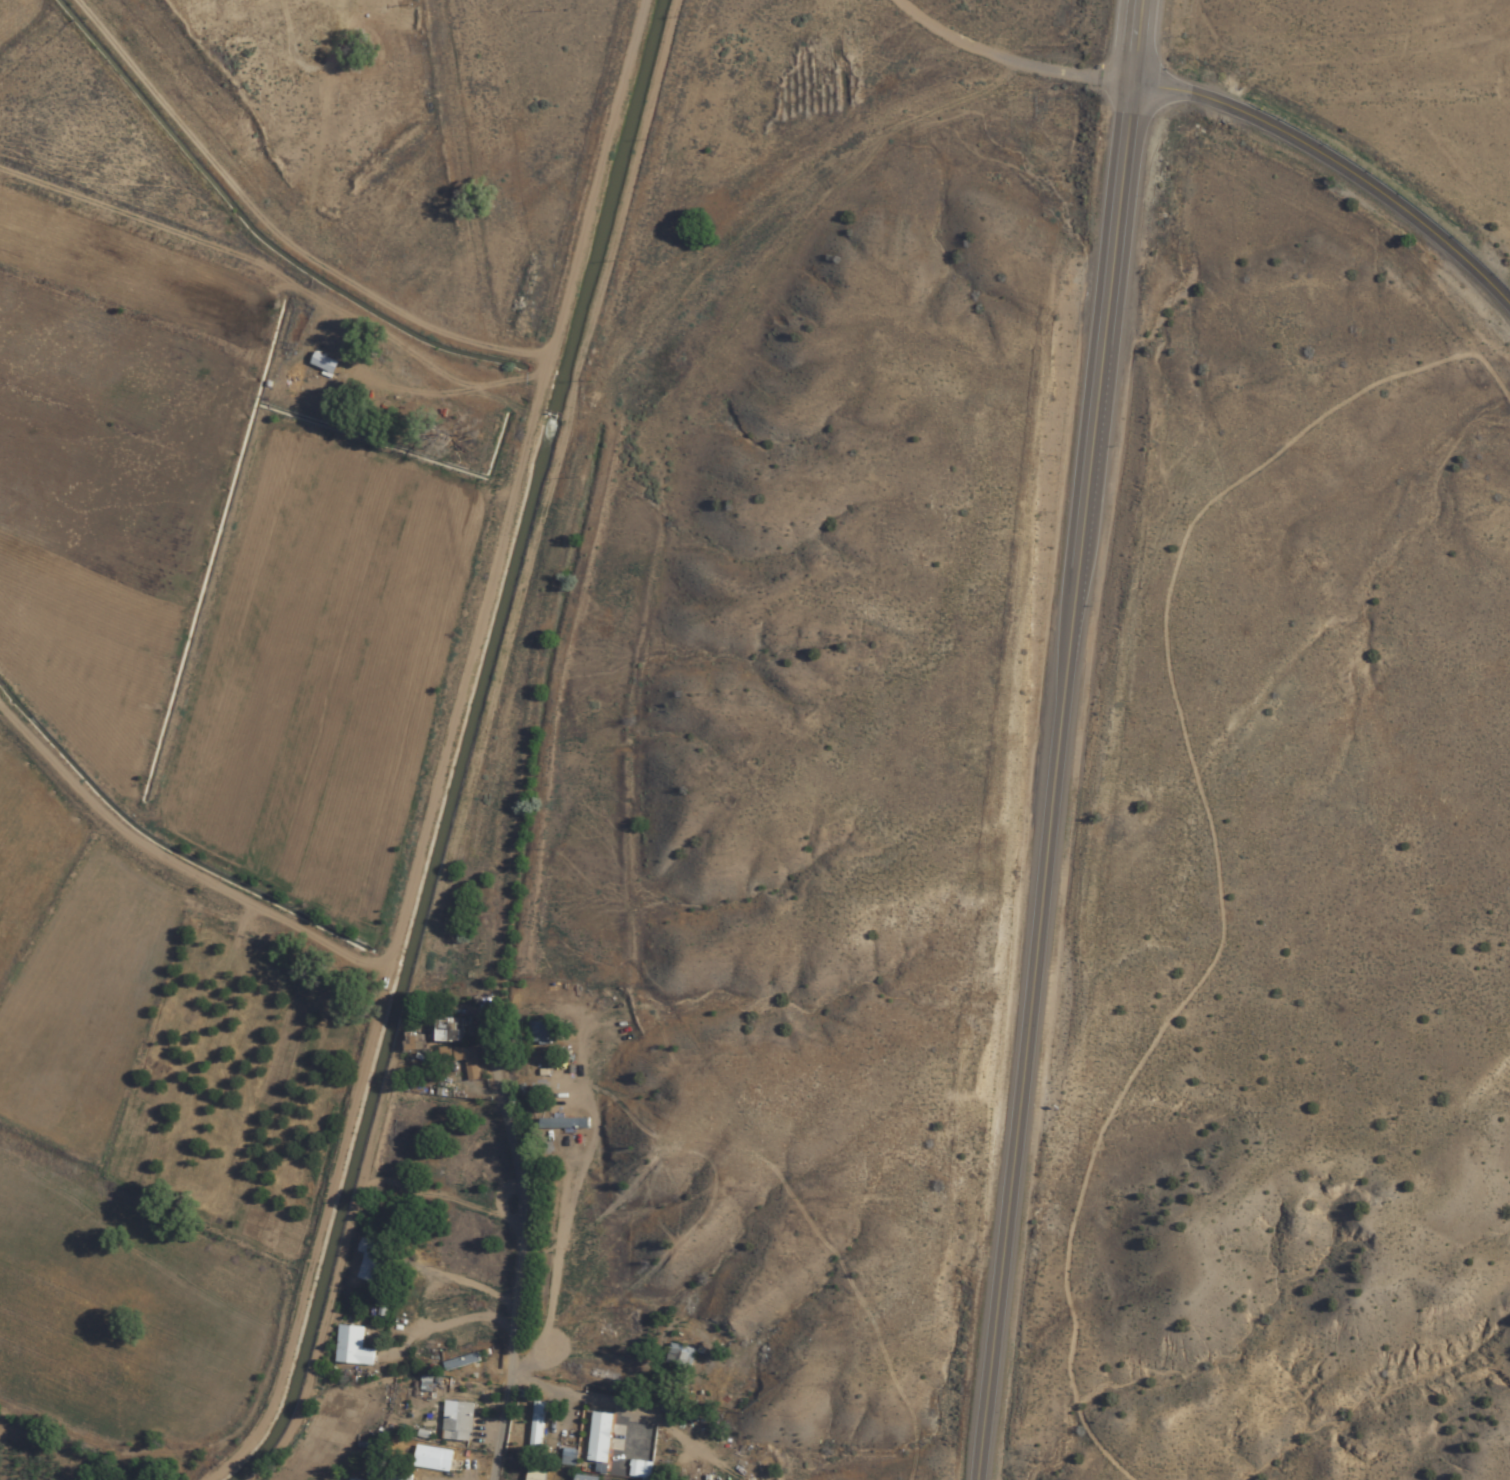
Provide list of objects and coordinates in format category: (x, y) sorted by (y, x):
building: (401, 0)
road: (1339, 164)
road: (553, 612)
road: (1060, 739)
building: (448, 1030)
building: (538, 1033)
building: (469, 1062)
building: (564, 1123)
building: (370, 1260)
building: (352, 1347)
building: (681, 1356)
building: (461, 1362)
road: (91, 1394)
road: (418, 1408)
building: (458, 1421)
building: (537, 1426)
building: (598, 1438)
building: (432, 1459)
building: (385, 1475)
building: (535, 1475)
building: (584, 1478)
building: (350, 1479)

